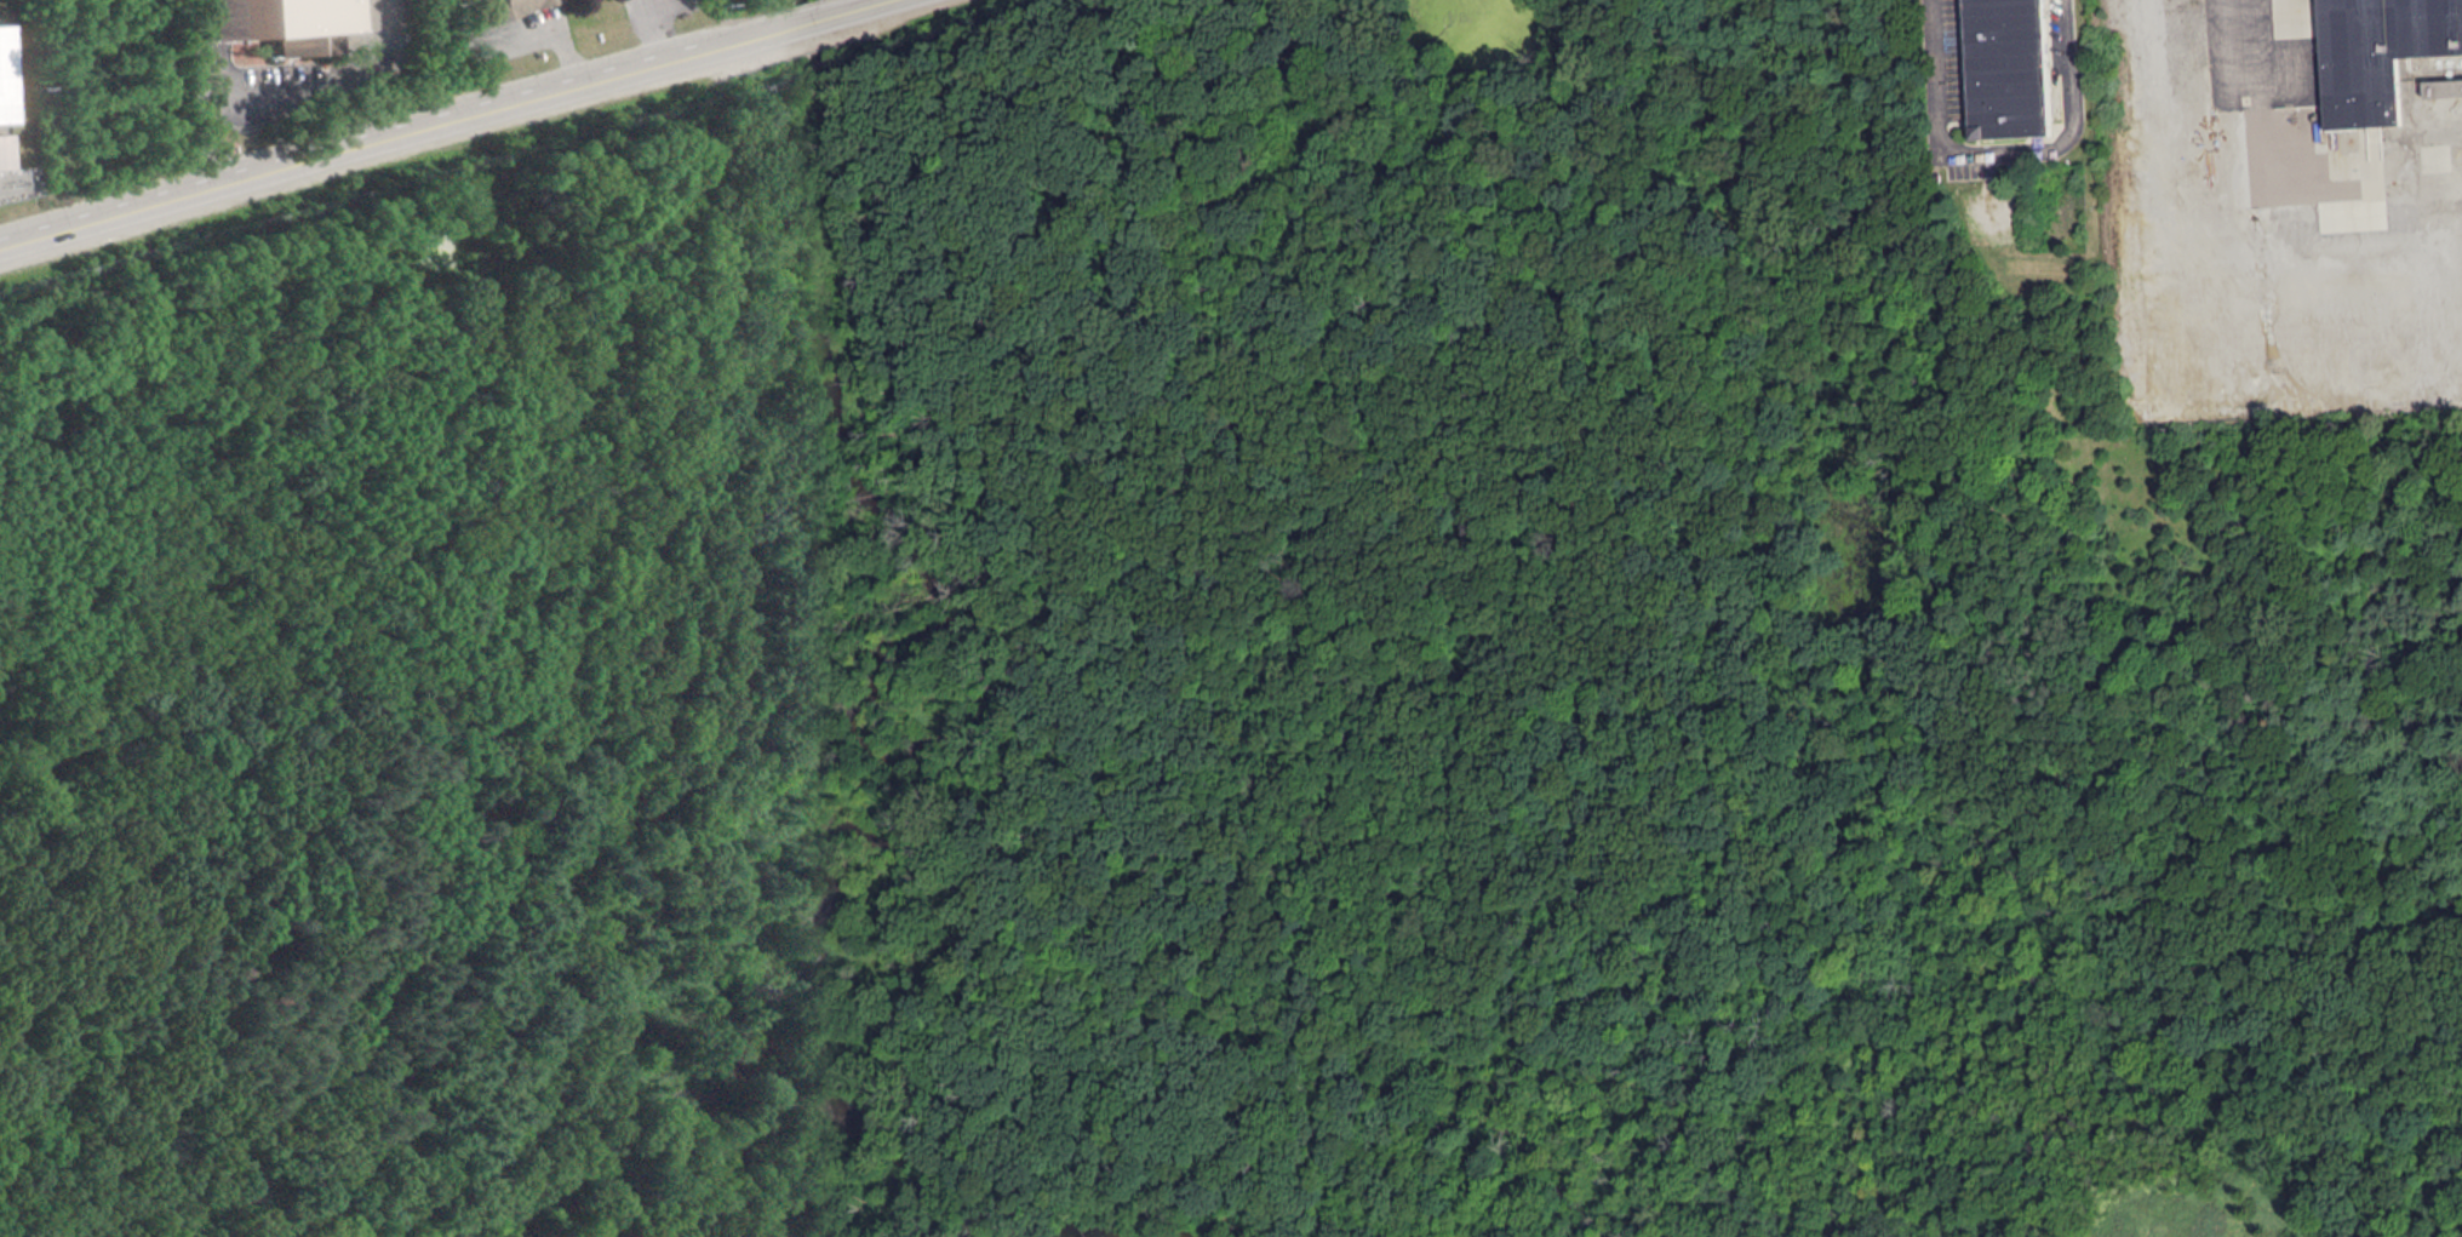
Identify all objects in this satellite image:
building: (509, 6)
building: (276, 22)
road: (788, 22)
road: (648, 27)
road: (520, 38)
building: (2377, 53)
road: (876, 61)
building: (2006, 67)
building: (1, 80)
building: (2443, 87)
road: (210, 114)
road: (348, 142)
road: (2006, 149)
building: (1, 151)
road: (2189, 256)
building: (2037, 265)
road: (851, 431)
road: (1561, 603)
park: (1203, 678)
road: (596, 848)

